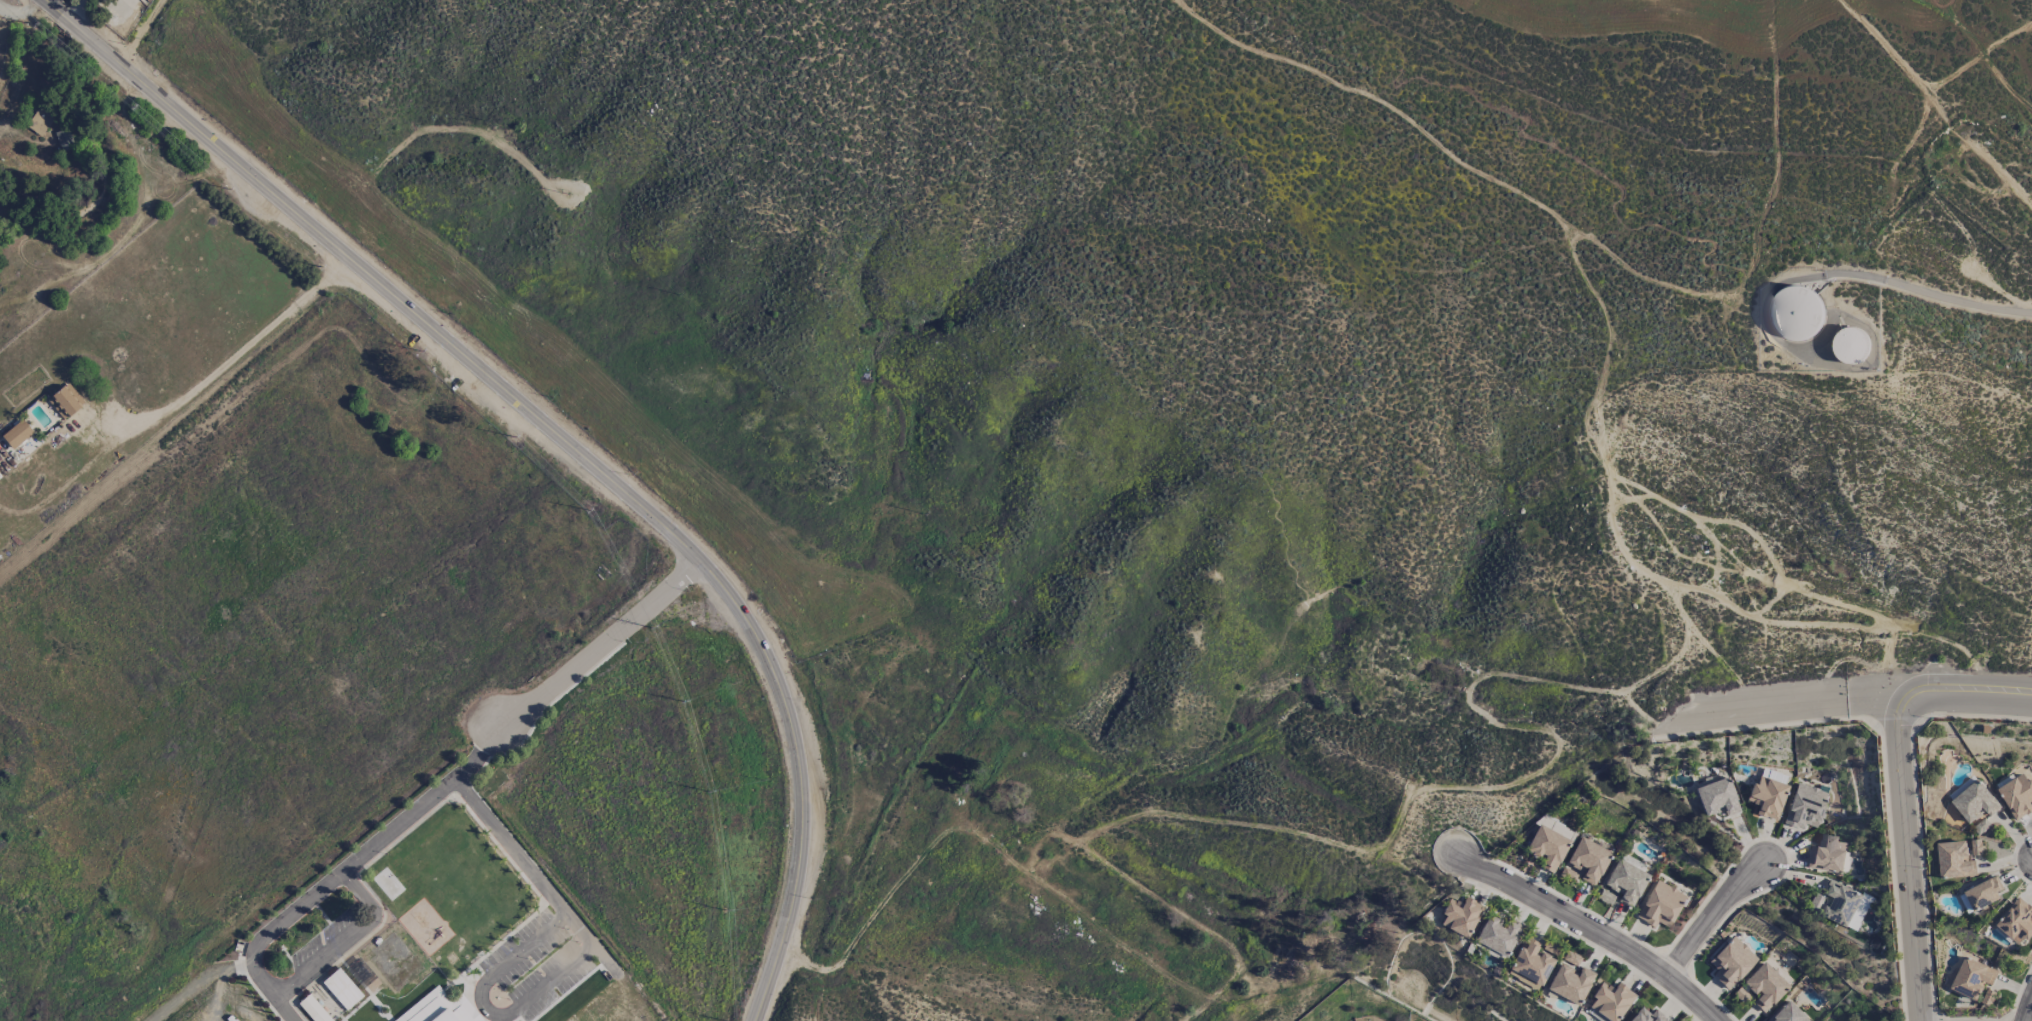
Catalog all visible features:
road: (1939, 101)
building: (40, 120)
road: (1854, 270)
building: (1797, 312)
building: (1851, 345)
road: (237, 354)
building: (64, 401)
building: (16, 434)
road: (565, 434)
road: (606, 641)
road: (1975, 694)
building: (2017, 796)
building: (1716, 797)
building: (1766, 797)
building: (1973, 799)
building: (1805, 806)
road: (377, 841)
building: (1548, 843)
building: (1976, 847)
road: (1910, 852)
building: (1827, 855)
building: (1588, 860)
building: (1955, 860)
building: (1566, 873)
building: (1625, 882)
building: (1984, 893)
building: (1605, 896)
building: (1660, 905)
building: (1845, 905)
road: (1712, 913)
building: (1460, 916)
building: (2017, 921)
road: (1595, 929)
building: (1499, 935)
road: (347, 939)
building: (1731, 961)
road: (570, 962)
building: (1530, 964)
building: (1972, 978)
building: (1569, 983)
road: (198, 985)
building: (1764, 986)
building: (341, 989)
road: (272, 993)
building: (1988, 997)
building: (1610, 1000)
building: (313, 1009)
building: (440, 1009)
building: (1786, 1013)
road: (2028, 1013)
building: (1647, 1016)

